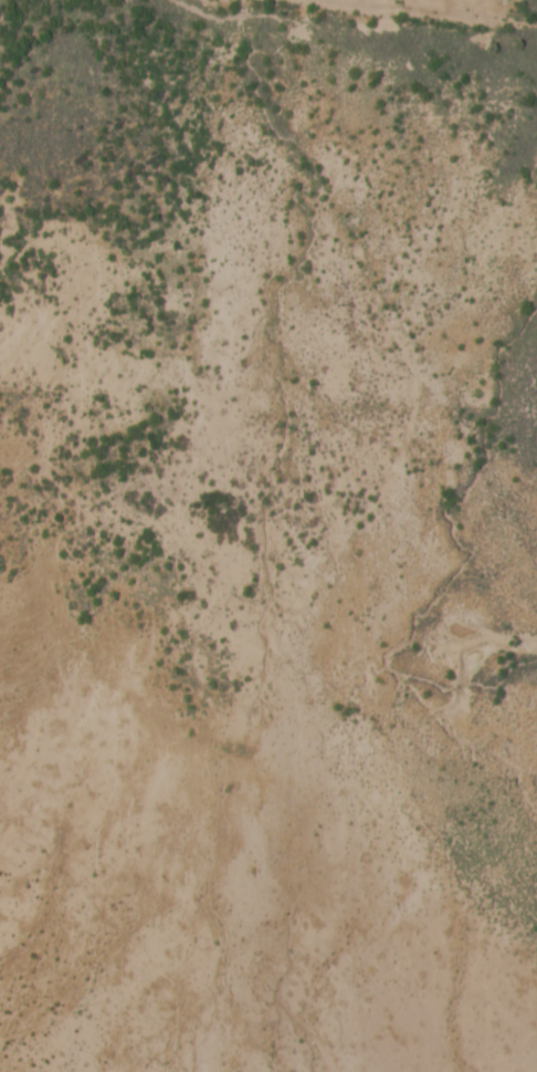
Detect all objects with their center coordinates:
river: (489, 34)
river: (463, 565)

